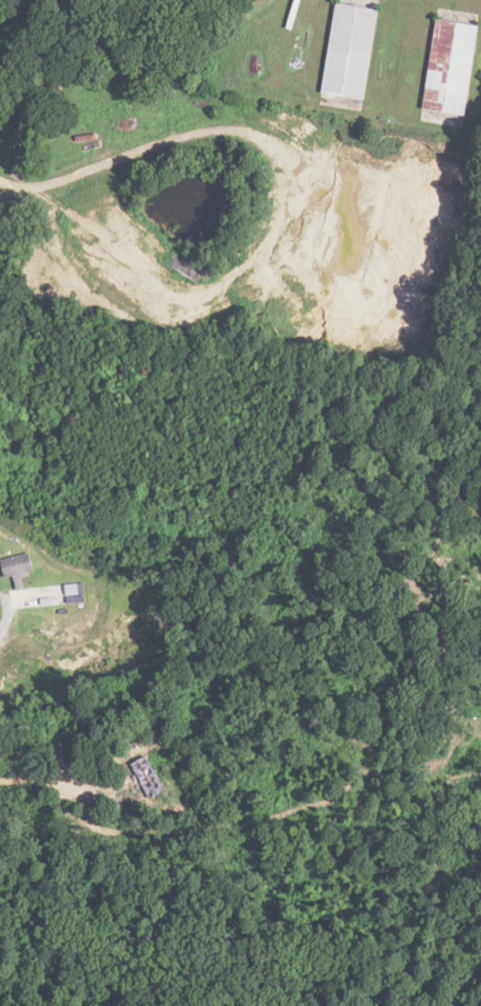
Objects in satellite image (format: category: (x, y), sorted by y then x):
building: (345, 51)
building: (445, 66)

